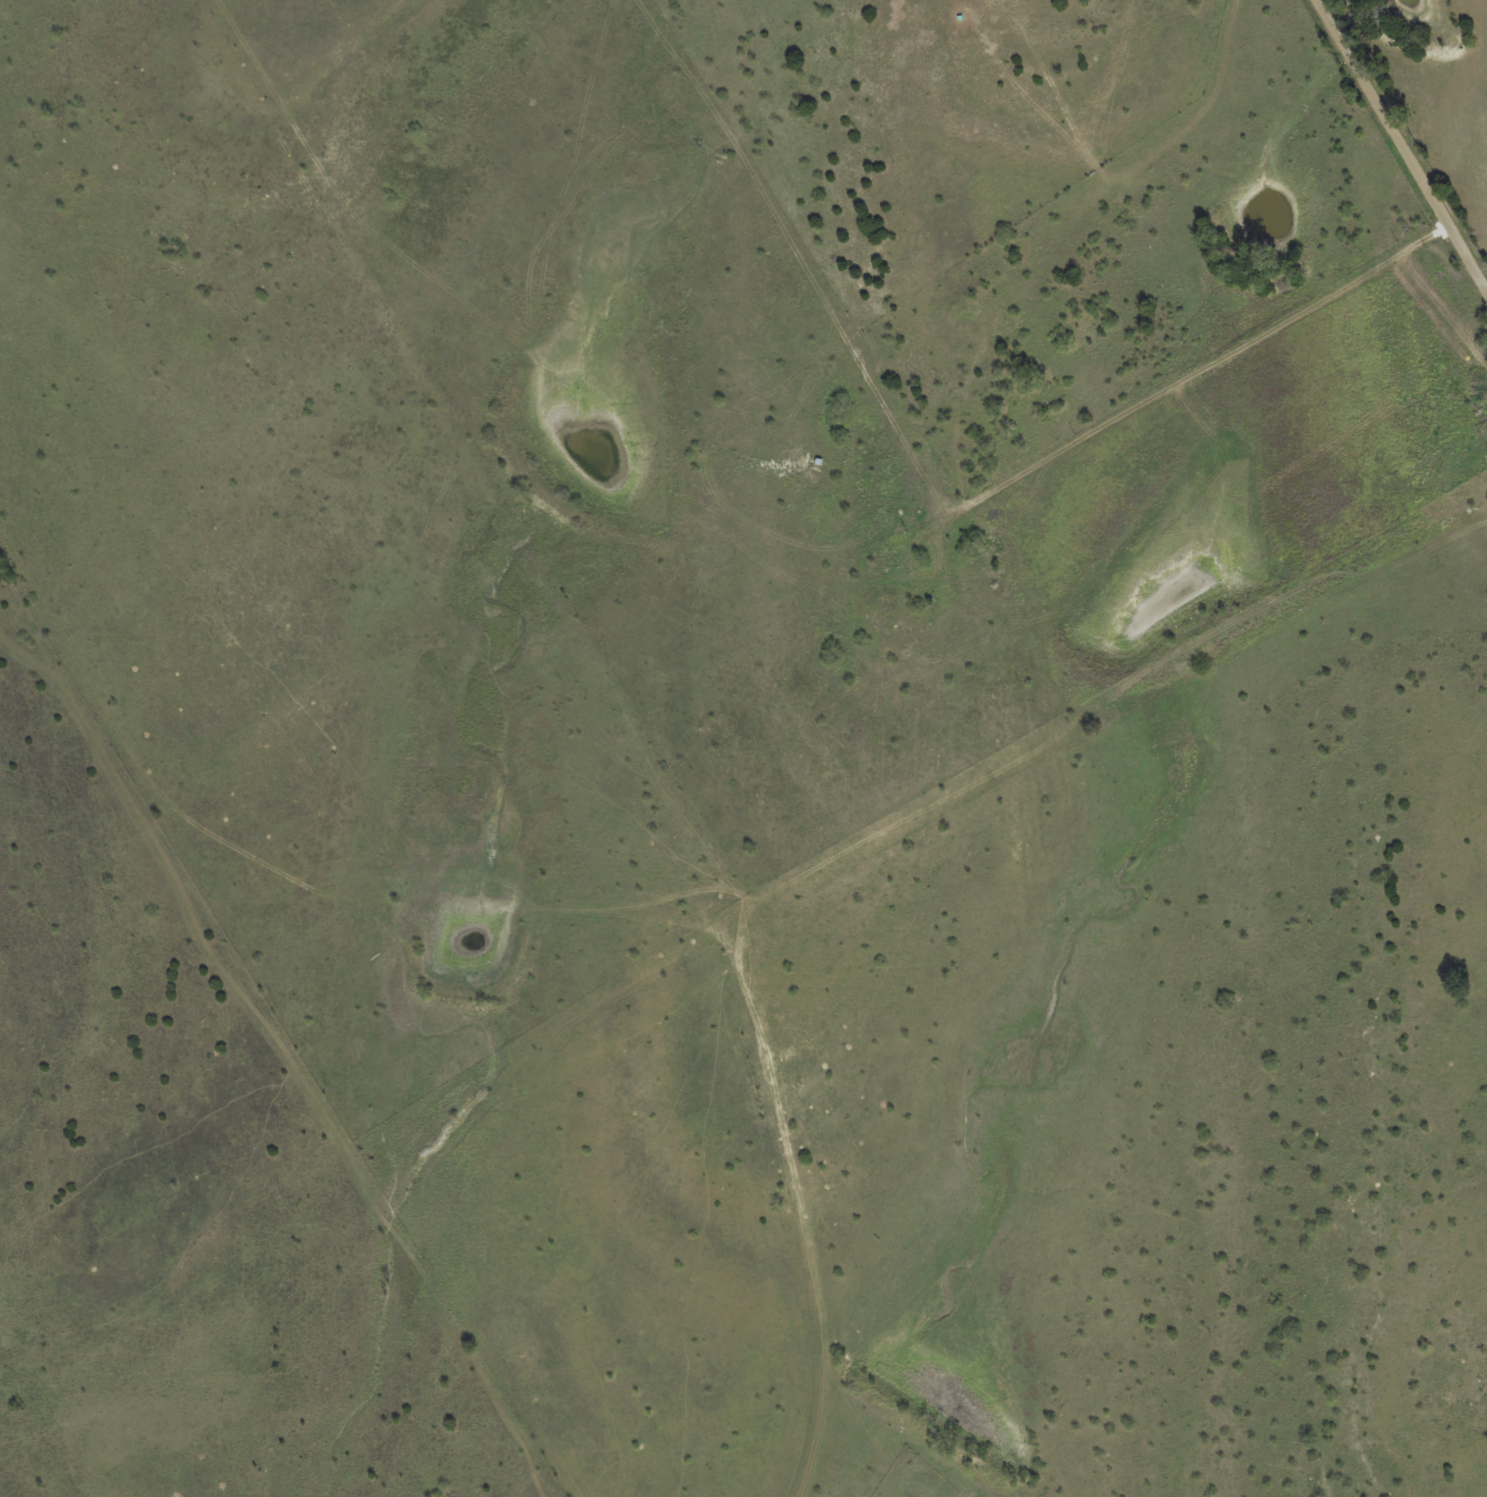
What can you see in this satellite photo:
road: (1399, 147)
road: (1258, 337)
building: (902, 565)

